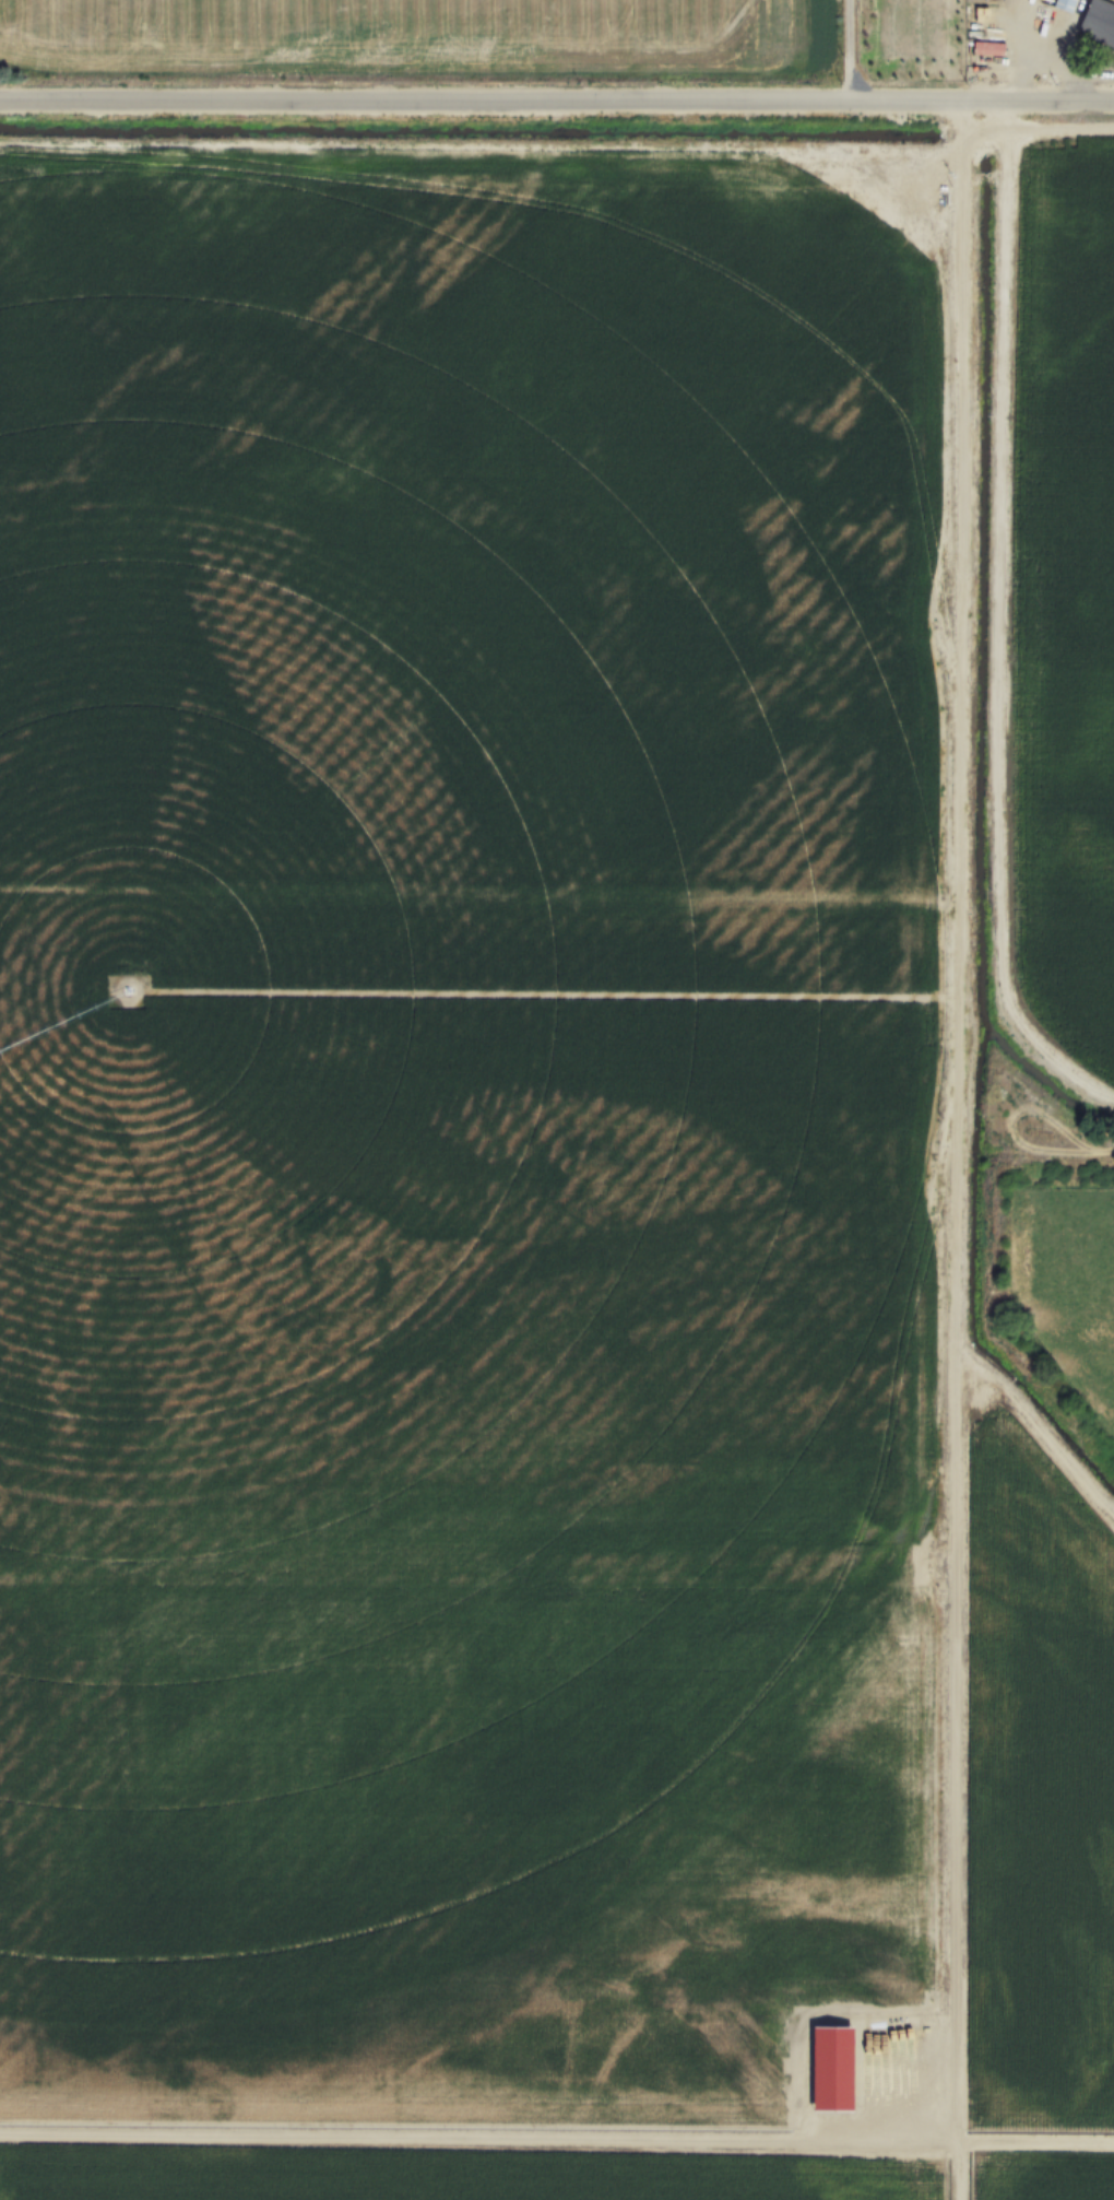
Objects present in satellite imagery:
building: (1062, 4)
building: (1095, 23)
road: (849, 51)
road: (1036, 52)
road: (556, 104)
road: (452, 2137)

